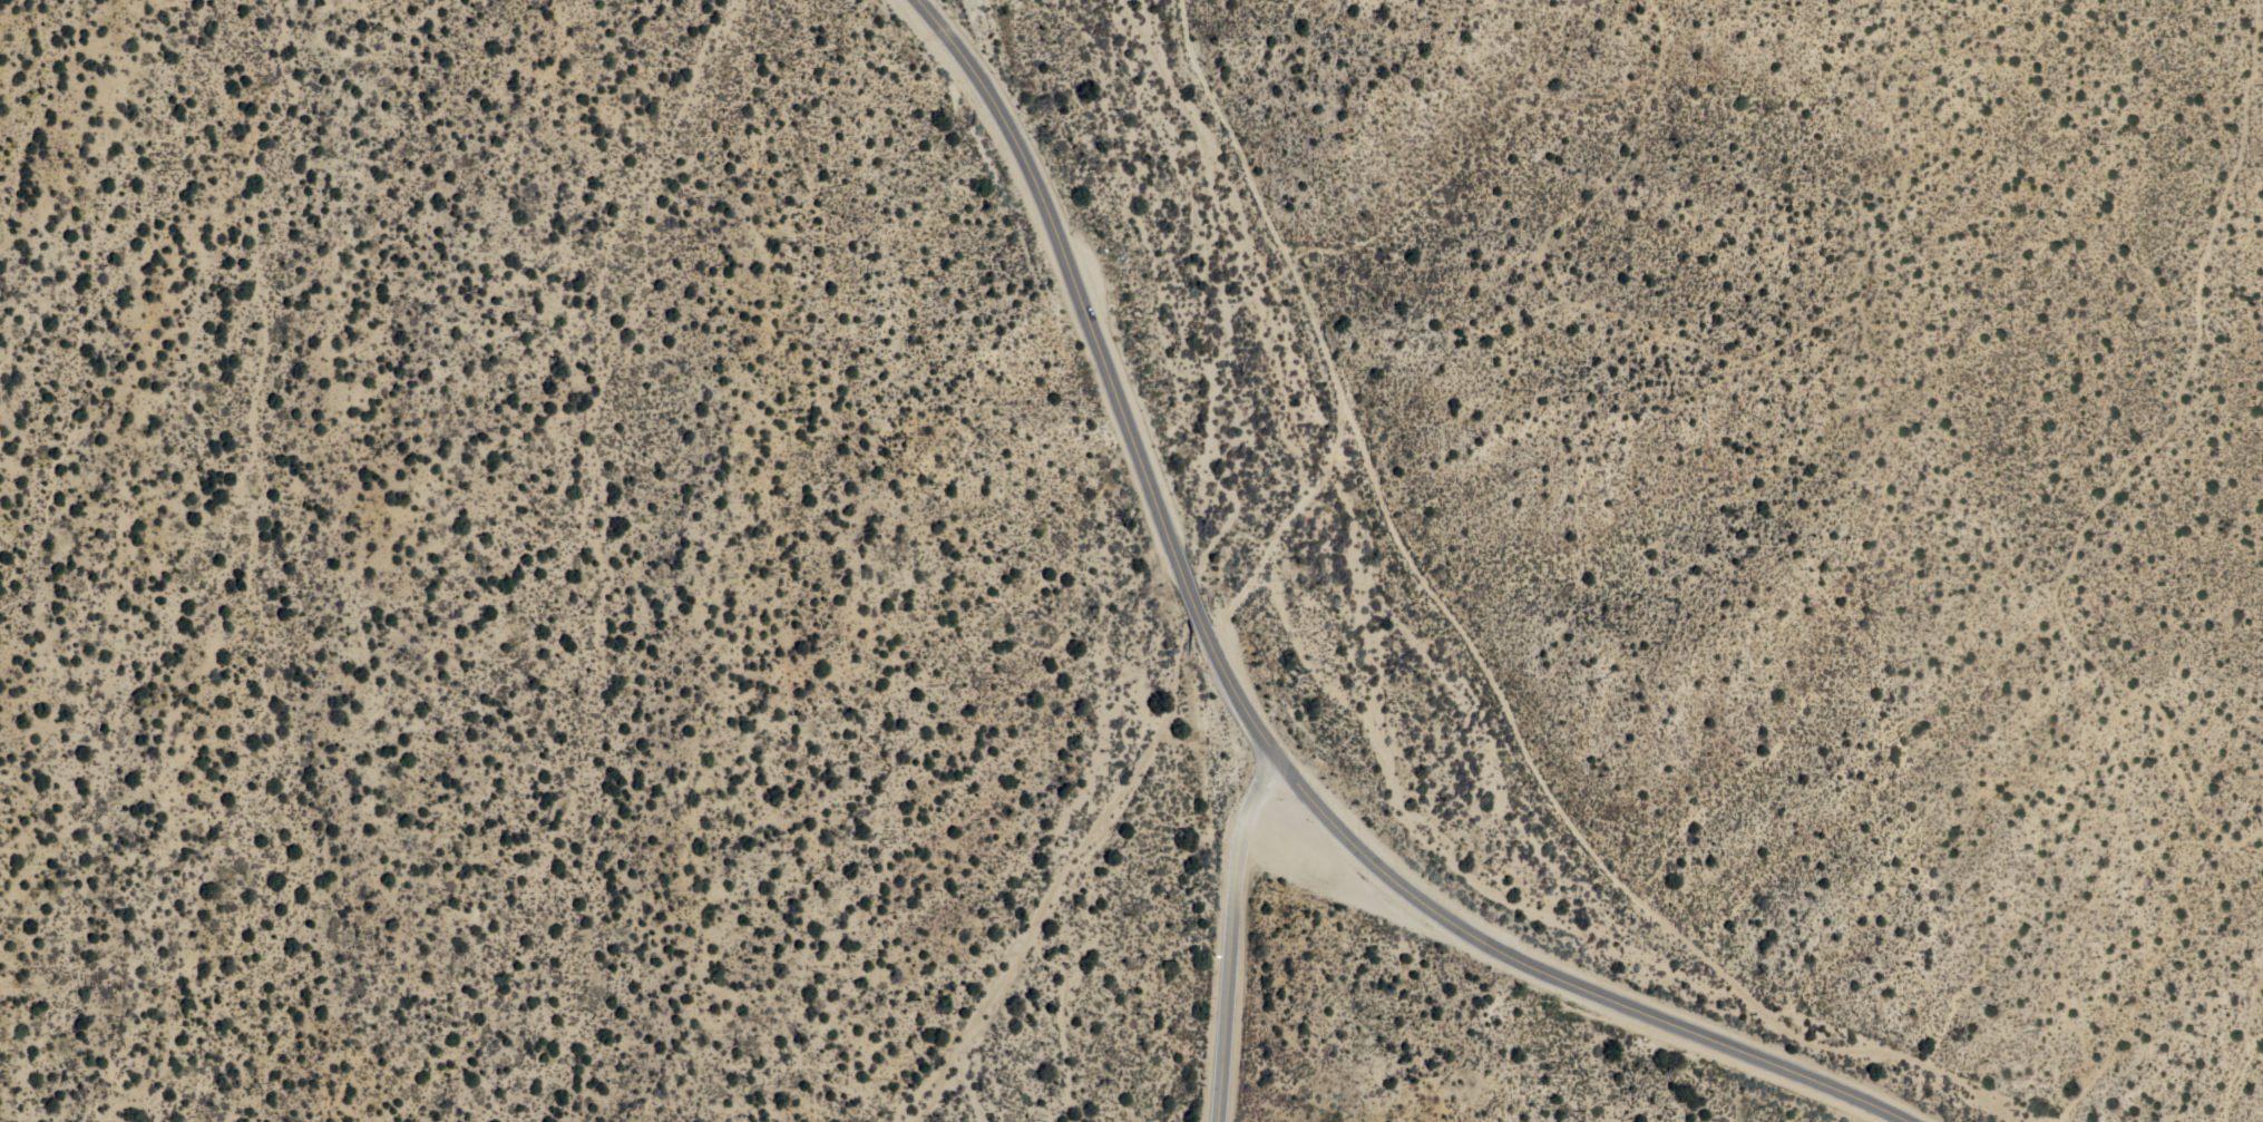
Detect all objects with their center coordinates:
road: (1111, 370)
road: (1232, 935)
road: (1568, 979)

